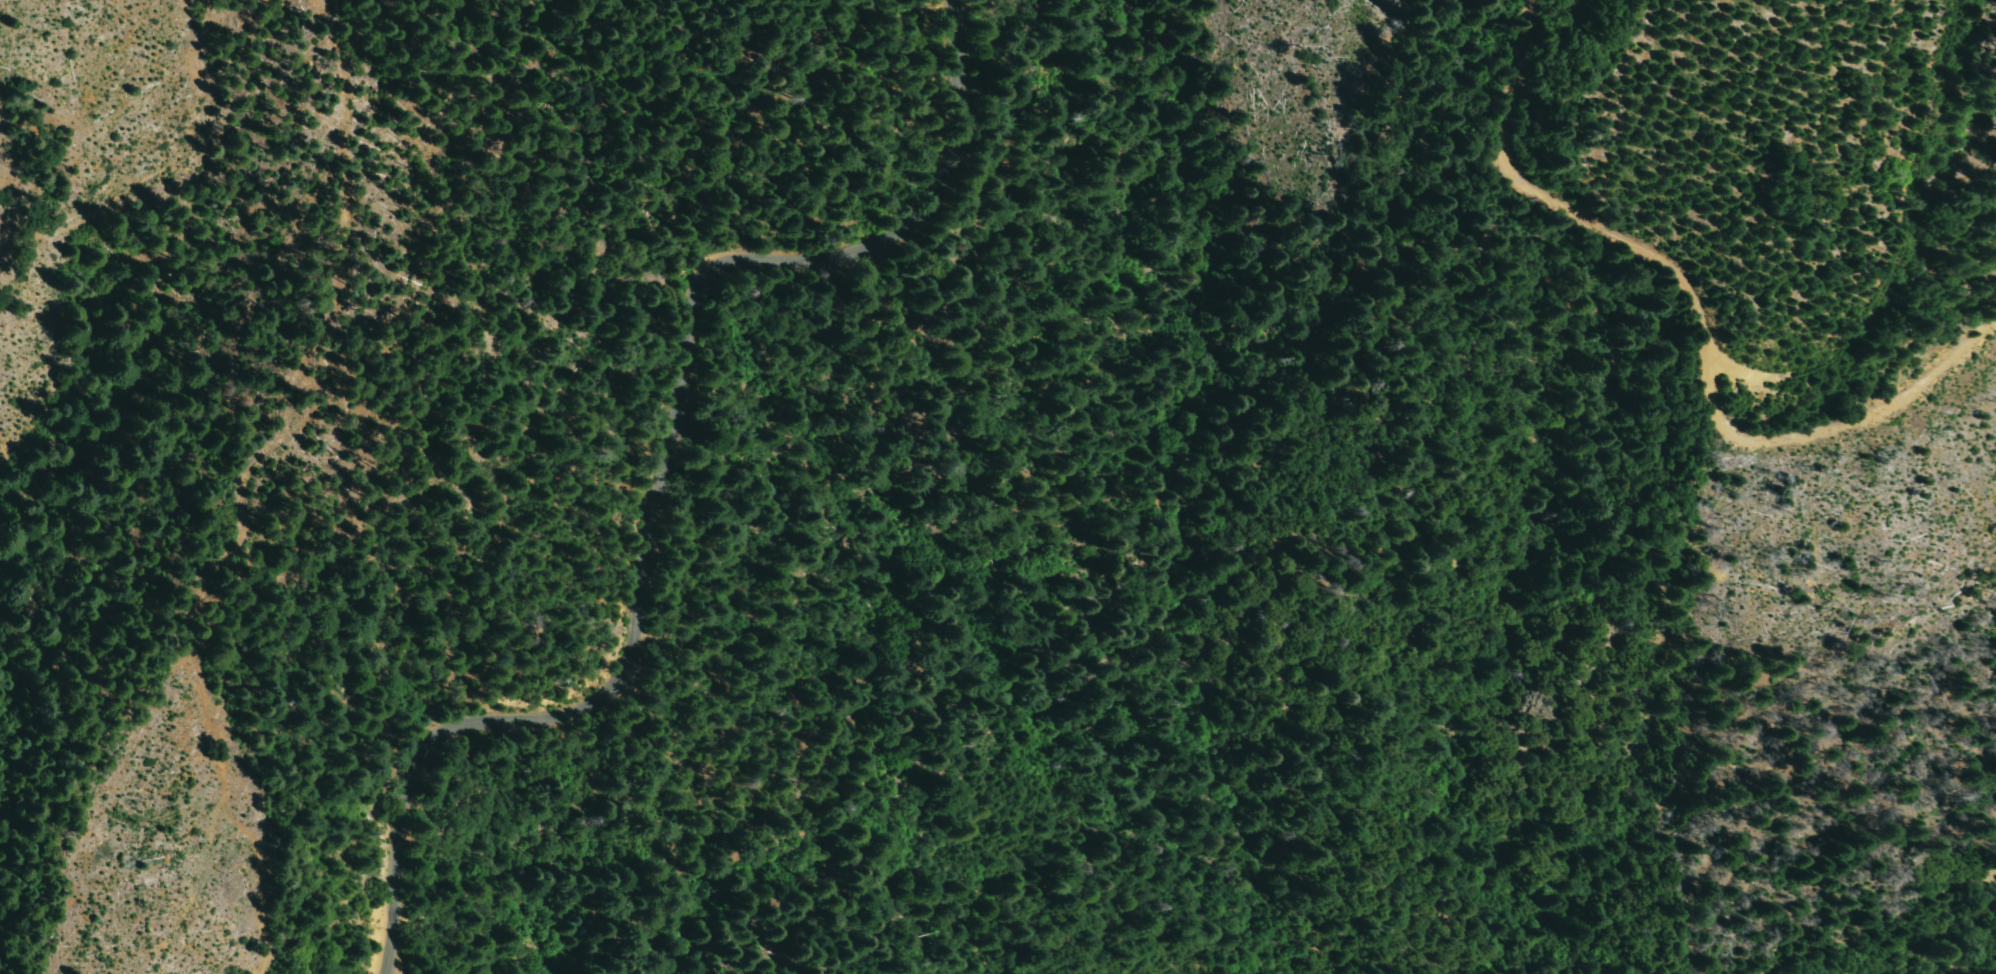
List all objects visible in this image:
road: (650, 472)

